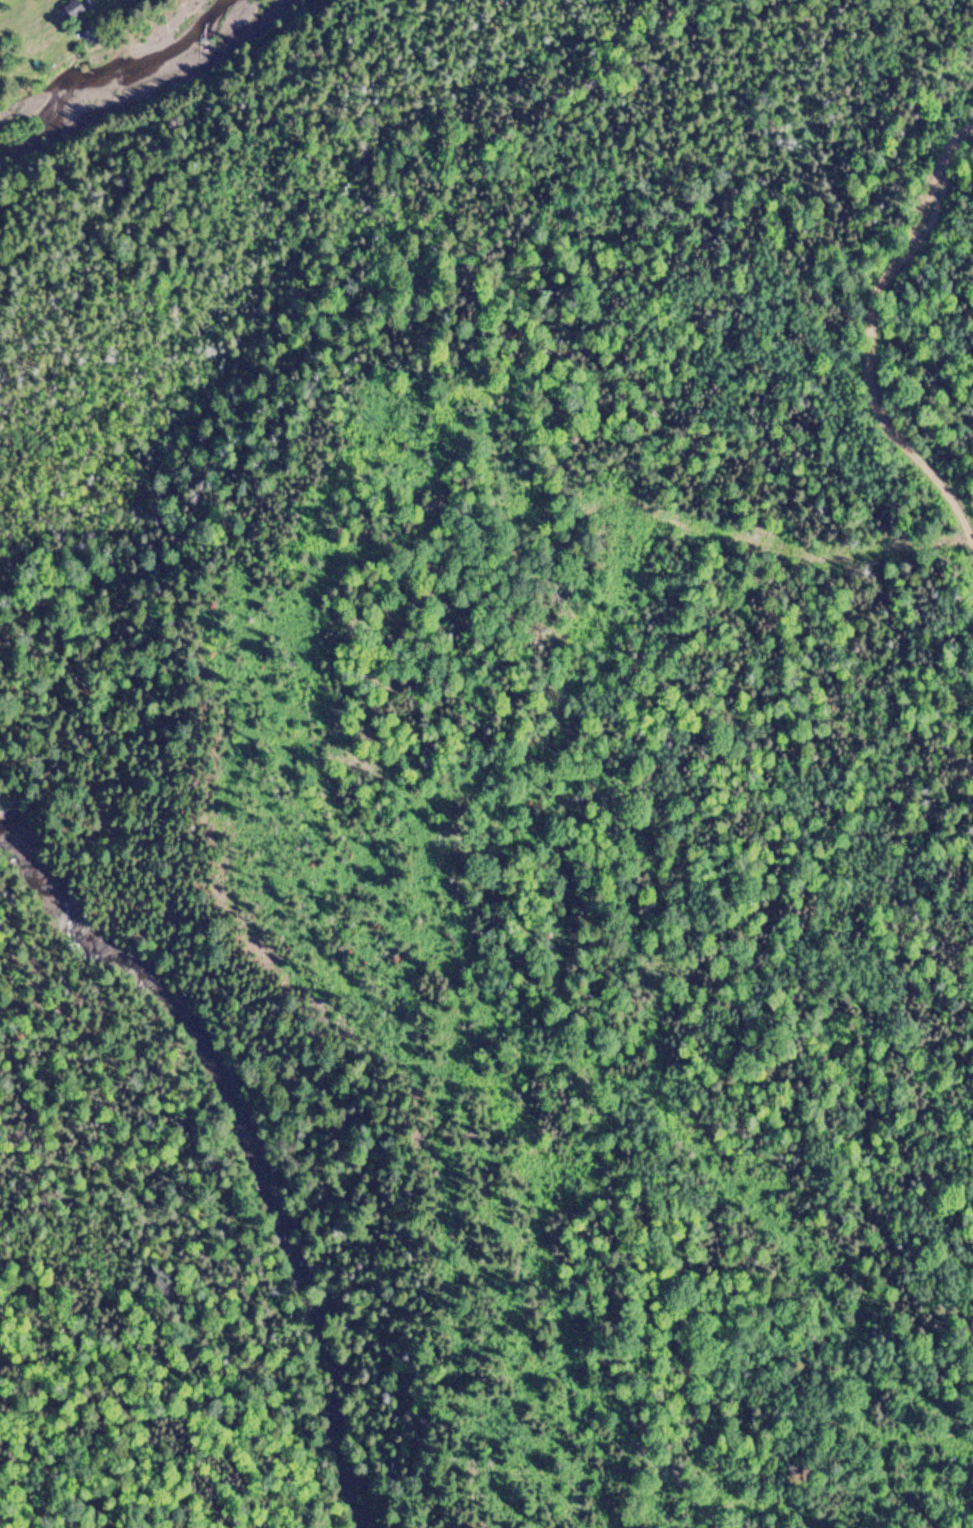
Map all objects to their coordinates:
river: (143, 97)
river: (269, 1100)

